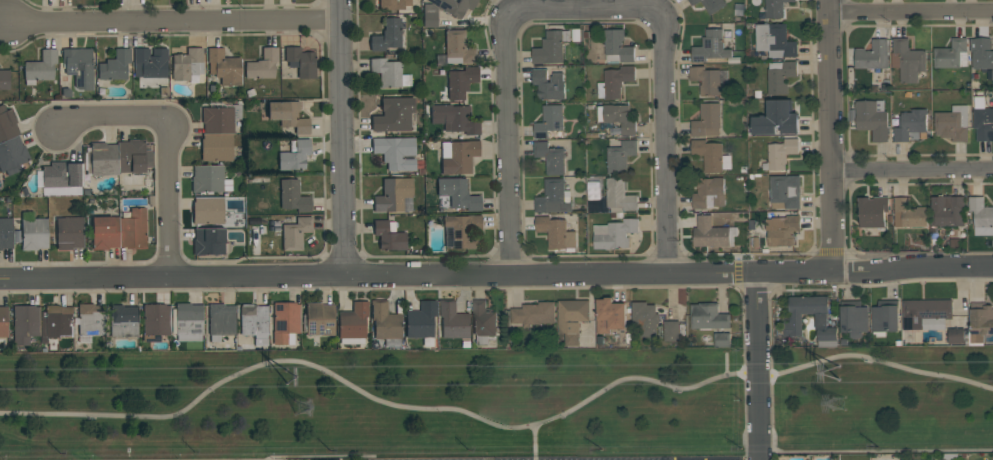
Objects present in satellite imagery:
building: (693, 2)
building: (393, 4)
building: (713, 5)
building: (454, 6)
building: (775, 8)
road: (911, 10)
road: (582, 13)
building: (429, 16)
road: (177, 23)
building: (387, 36)
building: (775, 40)
building: (551, 47)
building: (617, 47)
building: (458, 48)
building: (712, 48)
building: (952, 54)
building: (982, 54)
building: (873, 55)
building: (907, 60)
building: (300, 62)
building: (150, 63)
building: (187, 65)
building: (262, 65)
building: (114, 66)
building: (40, 67)
building: (78, 67)
building: (223, 67)
building: (389, 73)
building: (780, 76)
building: (709, 79)
building: (4, 80)
building: (615, 81)
building: (460, 82)
building: (549, 84)
building: (393, 115)
building: (288, 116)
building: (617, 117)
building: (776, 118)
building: (220, 119)
building: (454, 119)
building: (872, 119)
building: (982, 119)
building: (549, 120)
building: (707, 120)
building: (952, 123)
building: (7, 124)
building: (908, 124)
road: (830, 134)
road: (342, 137)
road: (166, 142)
building: (216, 147)
building: (395, 152)
building: (780, 153)
building: (12, 155)
building: (294, 155)
building: (711, 155)
building: (457, 156)
building: (620, 156)
building: (133, 157)
building: (550, 157)
building: (102, 159)
road: (912, 168)
building: (62, 178)
building: (209, 179)
building: (785, 191)
building: (709, 193)
building: (457, 194)
building: (619, 195)
building: (293, 196)
building: (394, 196)
building: (552, 197)
building: (208, 210)
building: (872, 210)
building: (947, 211)
building: (908, 214)
building: (981, 216)
building: (133, 229)
building: (782, 230)
building: (460, 231)
building: (5, 233)
building: (69, 233)
building: (105, 233)
building: (295, 233)
building: (556, 233)
building: (614, 233)
building: (710, 233)
building: (34, 234)
building: (389, 236)
building: (208, 242)
road: (737, 271)
road: (496, 274)
building: (534, 313)
building: (925, 313)
building: (610, 315)
building: (708, 316)
building: (645, 317)
building: (885, 317)
building: (572, 318)
building: (854, 318)
building: (318, 320)
building: (3, 321)
building: (123, 321)
building: (220, 321)
building: (453, 321)
building: (56, 322)
building: (90, 322)
building: (155, 322)
building: (187, 322)
building: (421, 322)
building: (483, 322)
building: (254, 323)
building: (285, 323)
building: (980, 323)
building: (25, 324)
building: (352, 324)
building: (385, 324)
building: (792, 324)
building: (671, 330)
building: (956, 336)
building: (722, 339)
road: (769, 352)
road: (759, 365)
power tower: (850, 372)
road: (744, 373)
power tower: (291, 376)
park: (499, 403)
power tower: (839, 404)
power tower: (309, 411)
road: (493, 424)
road: (757, 439)
road: (533, 442)

